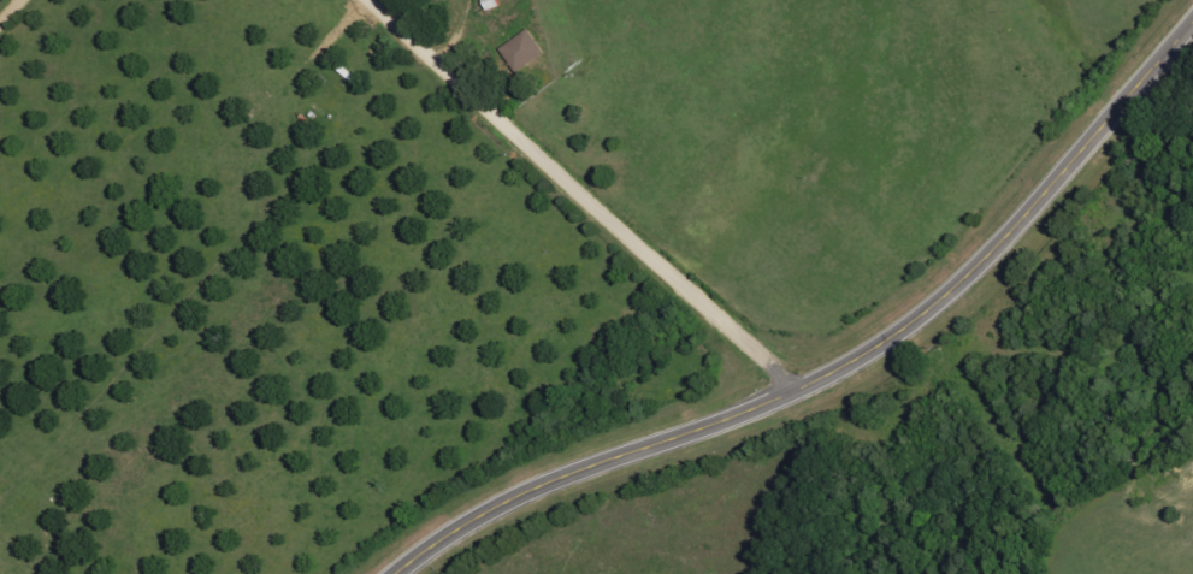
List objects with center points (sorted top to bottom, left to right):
road: (10, 11)
building: (522, 49)
road: (586, 196)
road: (841, 369)

